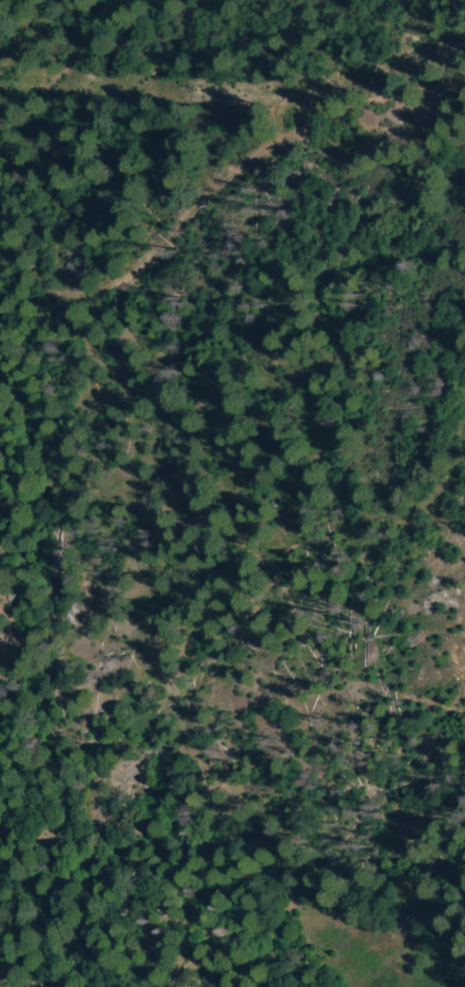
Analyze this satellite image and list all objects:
road: (202, 503)

